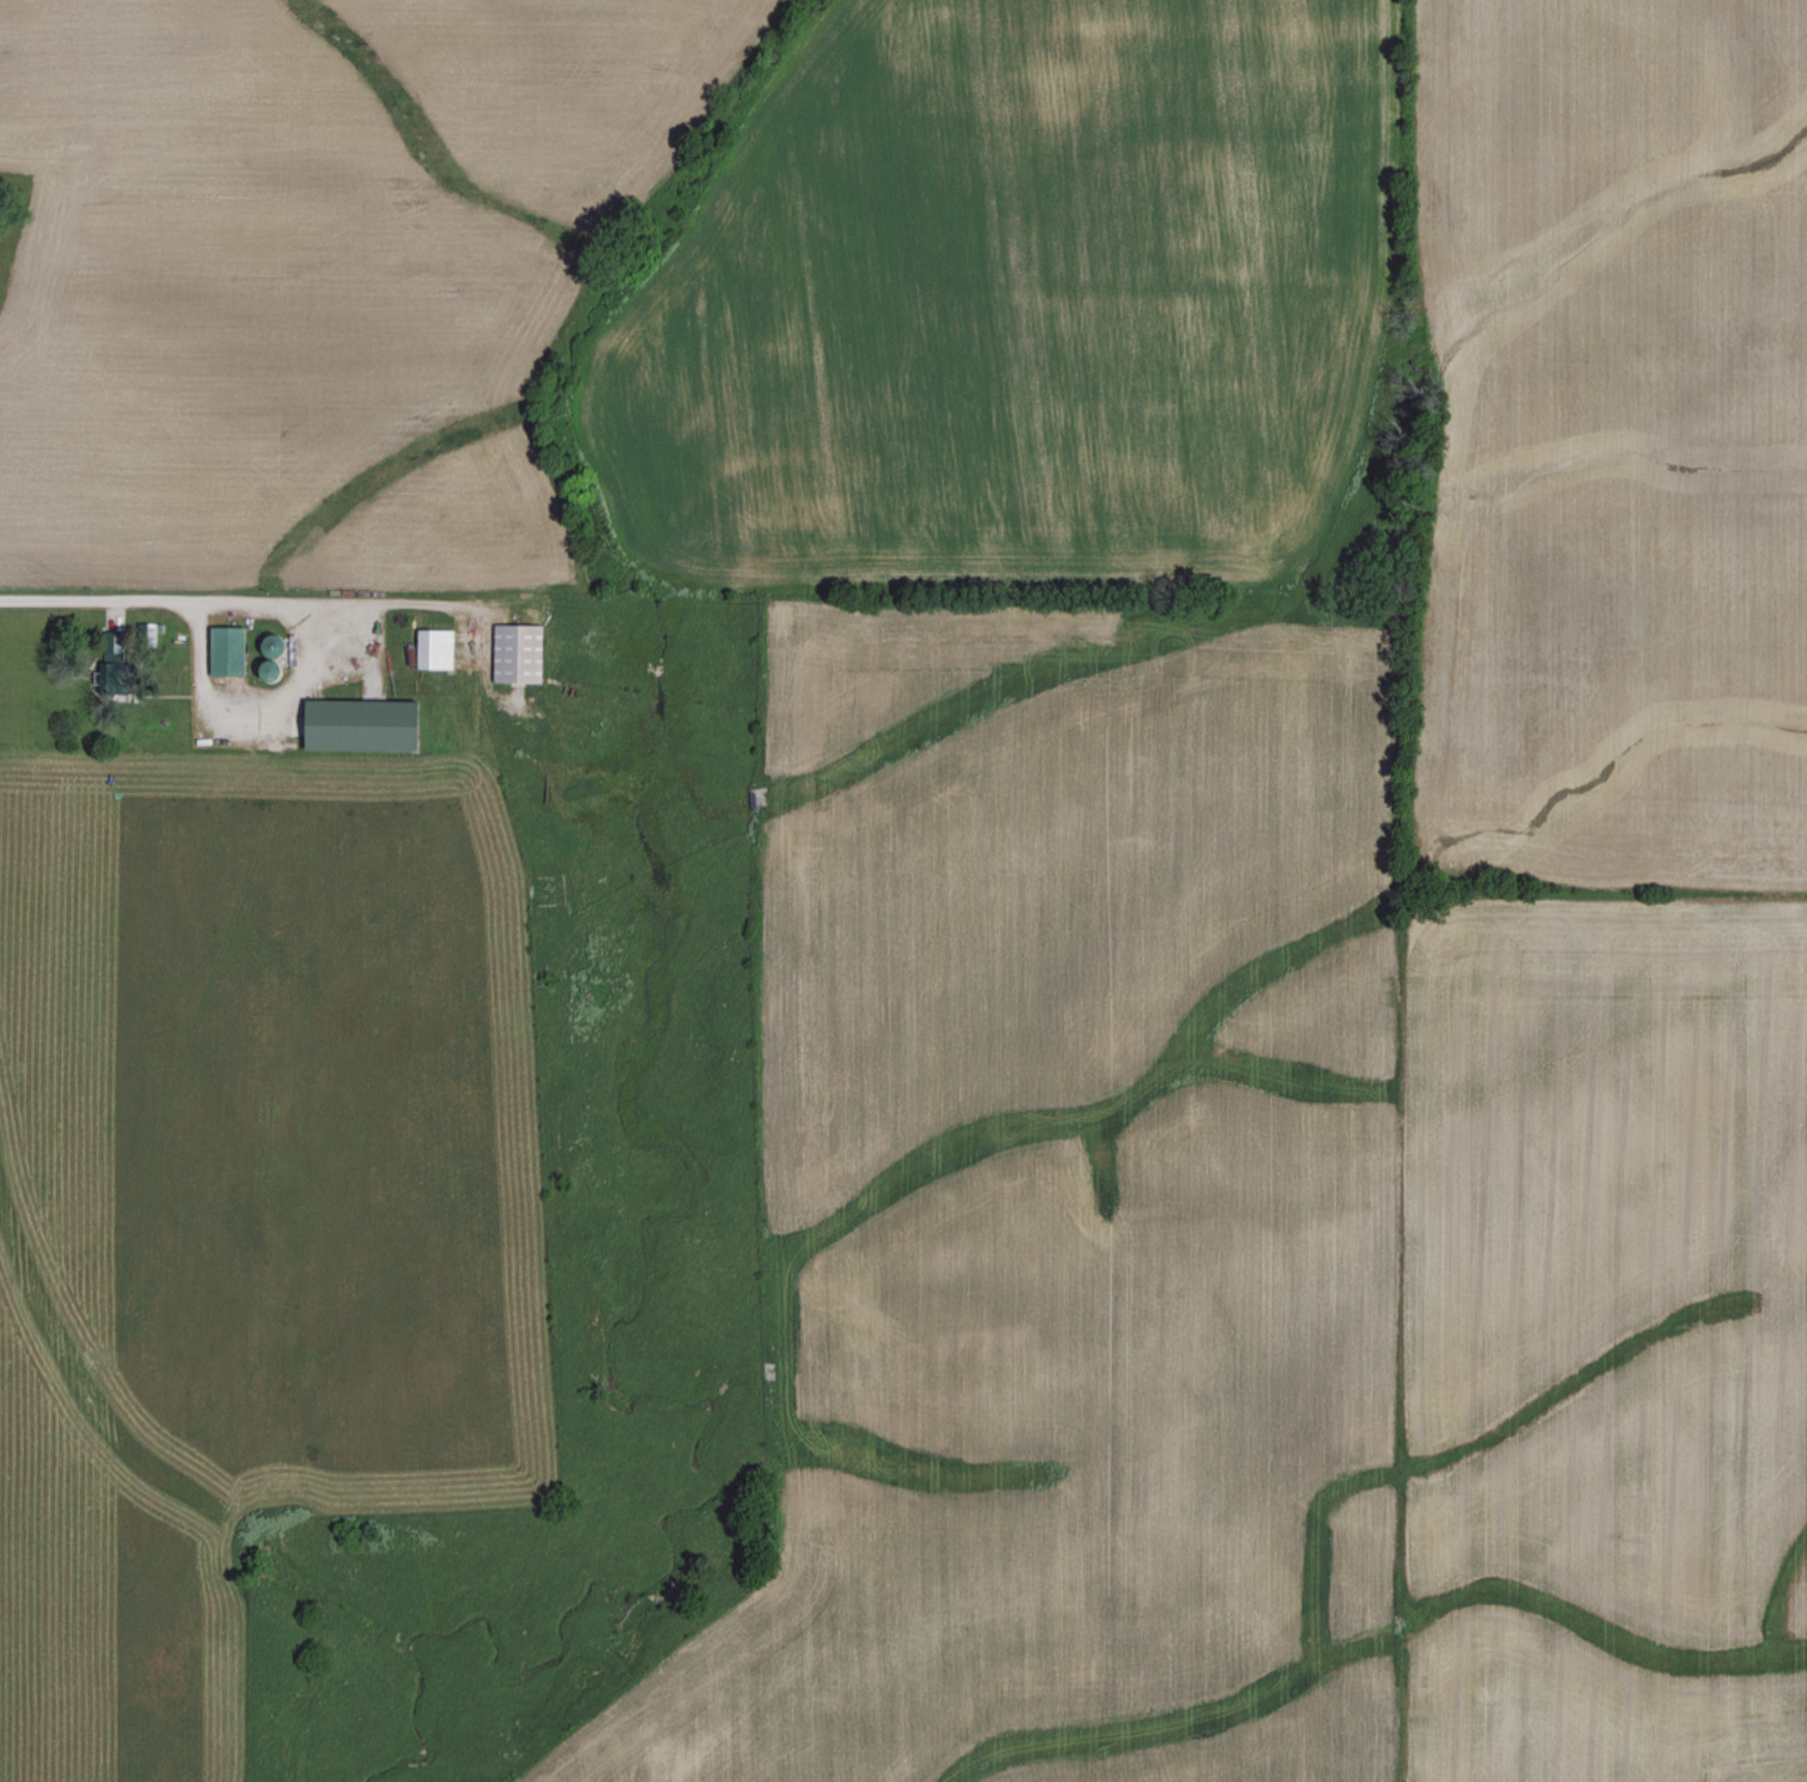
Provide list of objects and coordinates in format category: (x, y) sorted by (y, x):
road: (98, 599)
building: (430, 648)
building: (223, 651)
building: (513, 653)
building: (105, 664)
road: (286, 693)
building: (353, 725)

